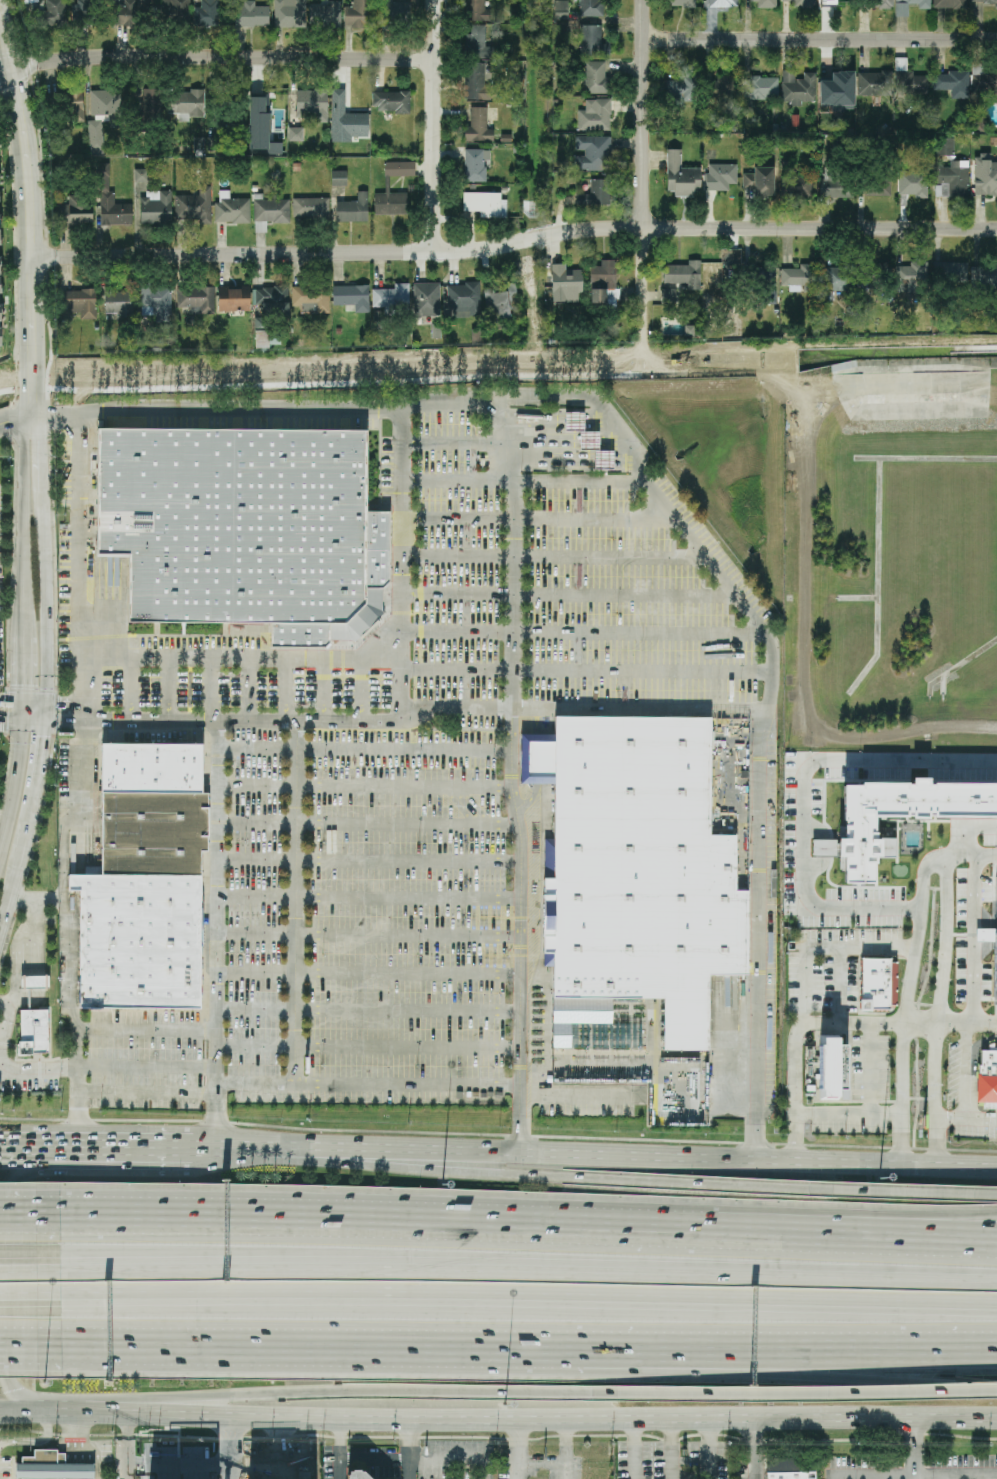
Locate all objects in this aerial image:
building: (30, 1)
building: (833, 1)
building: (984, 1)
building: (683, 3)
building: (798, 3)
building: (725, 4)
building: (765, 4)
building: (879, 4)
building: (949, 4)
building: (909, 5)
building: (590, 8)
building: (474, 10)
building: (561, 10)
building: (84, 11)
building: (175, 11)
building: (52, 13)
building: (133, 13)
building: (207, 13)
building: (285, 13)
building: (391, 13)
building: (251, 14)
building: (327, 14)
building: (356, 14)
road: (821, 39)
building: (591, 41)
building: (477, 42)
road: (215, 58)
building: (594, 77)
building: (908, 80)
building: (983, 80)
building: (475, 81)
building: (874, 83)
building: (835, 84)
building: (951, 84)
building: (761, 87)
building: (798, 87)
building: (681, 88)
building: (723, 89)
building: (105, 102)
building: (392, 102)
building: (151, 103)
building: (185, 104)
building: (268, 105)
building: (311, 106)
building: (74, 107)
building: (595, 116)
building: (345, 117)
road: (434, 126)
building: (477, 126)
building: (260, 129)
building: (295, 135)
building: (96, 136)
building: (198, 144)
building: (945, 147)
building: (592, 153)
building: (474, 165)
building: (399, 169)
road: (644, 170)
building: (681, 176)
building: (141, 177)
building: (720, 177)
building: (985, 177)
building: (338, 178)
building: (952, 179)
building: (759, 181)
building: (104, 184)
building: (877, 184)
building: (836, 185)
building: (913, 185)
building: (796, 186)
building: (595, 193)
road: (27, 197)
building: (388, 203)
building: (484, 204)
building: (155, 207)
building: (194, 207)
building: (230, 208)
building: (311, 208)
building: (353, 209)
building: (270, 213)
building: (74, 214)
road: (515, 244)
building: (952, 271)
building: (682, 274)
building: (719, 275)
building: (984, 275)
building: (758, 276)
building: (798, 276)
building: (875, 276)
building: (909, 278)
building: (836, 279)
building: (564, 282)
building: (604, 283)
building: (0, 287)
building: (668, 295)
building: (352, 297)
building: (391, 297)
building: (233, 299)
building: (311, 299)
building: (426, 299)
building: (463, 299)
building: (196, 300)
building: (272, 300)
building: (117, 302)
building: (80, 303)
building: (156, 303)
building: (500, 305)
building: (261, 339)
road: (36, 378)
road: (275, 410)
road: (18, 423)
building: (589, 441)
road: (457, 443)
road: (457, 481)
road: (582, 481)
road: (542, 519)
building: (244, 534)
road: (39, 555)
road: (556, 556)
road: (403, 561)
road: (78, 564)
road: (571, 595)
parking lot: (1, 627)
road: (584, 633)
road: (243, 658)
road: (588, 671)
road: (130, 685)
road: (171, 686)
road: (213, 686)
road: (249, 686)
road: (286, 687)
road: (323, 688)
road: (361, 688)
road: (637, 704)
road: (17, 708)
road: (762, 712)
road: (273, 715)
road: (359, 749)
road: (37, 760)
building: (153, 768)
road: (510, 773)
road: (14, 774)
road: (363, 786)
road: (803, 801)
building: (897, 818)
road: (365, 822)
parking lot: (373, 822)
road: (964, 833)
building: (153, 835)
road: (367, 861)
road: (971, 861)
building: (640, 864)
road: (937, 867)
road: (17, 874)
building: (982, 889)
building: (996, 890)
road: (38, 896)
road: (366, 897)
road: (298, 900)
road: (63, 901)
road: (214, 931)
road: (365, 935)
building: (141, 942)
road: (971, 942)
road: (824, 944)
road: (366, 973)
building: (995, 973)
building: (878, 984)
road: (366, 1009)
building: (34, 1015)
road: (800, 1021)
road: (968, 1023)
road: (146, 1033)
road: (408, 1046)
road: (255, 1048)
road: (904, 1066)
road: (11, 1067)
road: (871, 1067)
road: (147, 1068)
road: (966, 1073)
building: (987, 1077)
road: (274, 1087)
road: (937, 1094)
road: (848, 1111)
road: (966, 1124)
road: (902, 1137)
road: (16, 1147)
road: (110, 1147)
road: (592, 1151)
road: (12, 1158)
road: (514, 1175)
road: (919, 1197)
road: (15, 1218)
road: (853, 1224)
road: (370, 1225)
road: (853, 1234)
road: (15, 1265)
road: (514, 1272)
road: (15, 1297)
road: (514, 1301)
road: (2, 1329)
road: (15, 1334)
road: (179, 1335)
road: (502, 1337)
road: (836, 1339)
road: (179, 1344)
road: (15, 1353)
road: (836, 1357)
road: (368, 1395)
road: (809, 1395)
road: (18, 1414)
road: (82, 1415)
road: (562, 1419)
road: (34, 1442)
road: (128, 1447)
road: (228, 1448)
road: (82, 1449)
road: (342, 1449)
road: (409, 1449)
road: (518, 1449)
road: (565, 1449)
road: (633, 1449)
road: (670, 1449)
road: (709, 1449)
road: (756, 1449)
road: (914, 1449)
road: (375, 1459)
road: (456, 1460)
road: (541, 1462)
road: (179, 1466)
building: (53, 1467)
building: (790, 1472)
building: (357, 1475)
road: (916, 1477)
road: (877, 1478)
road: (951, 1478)

